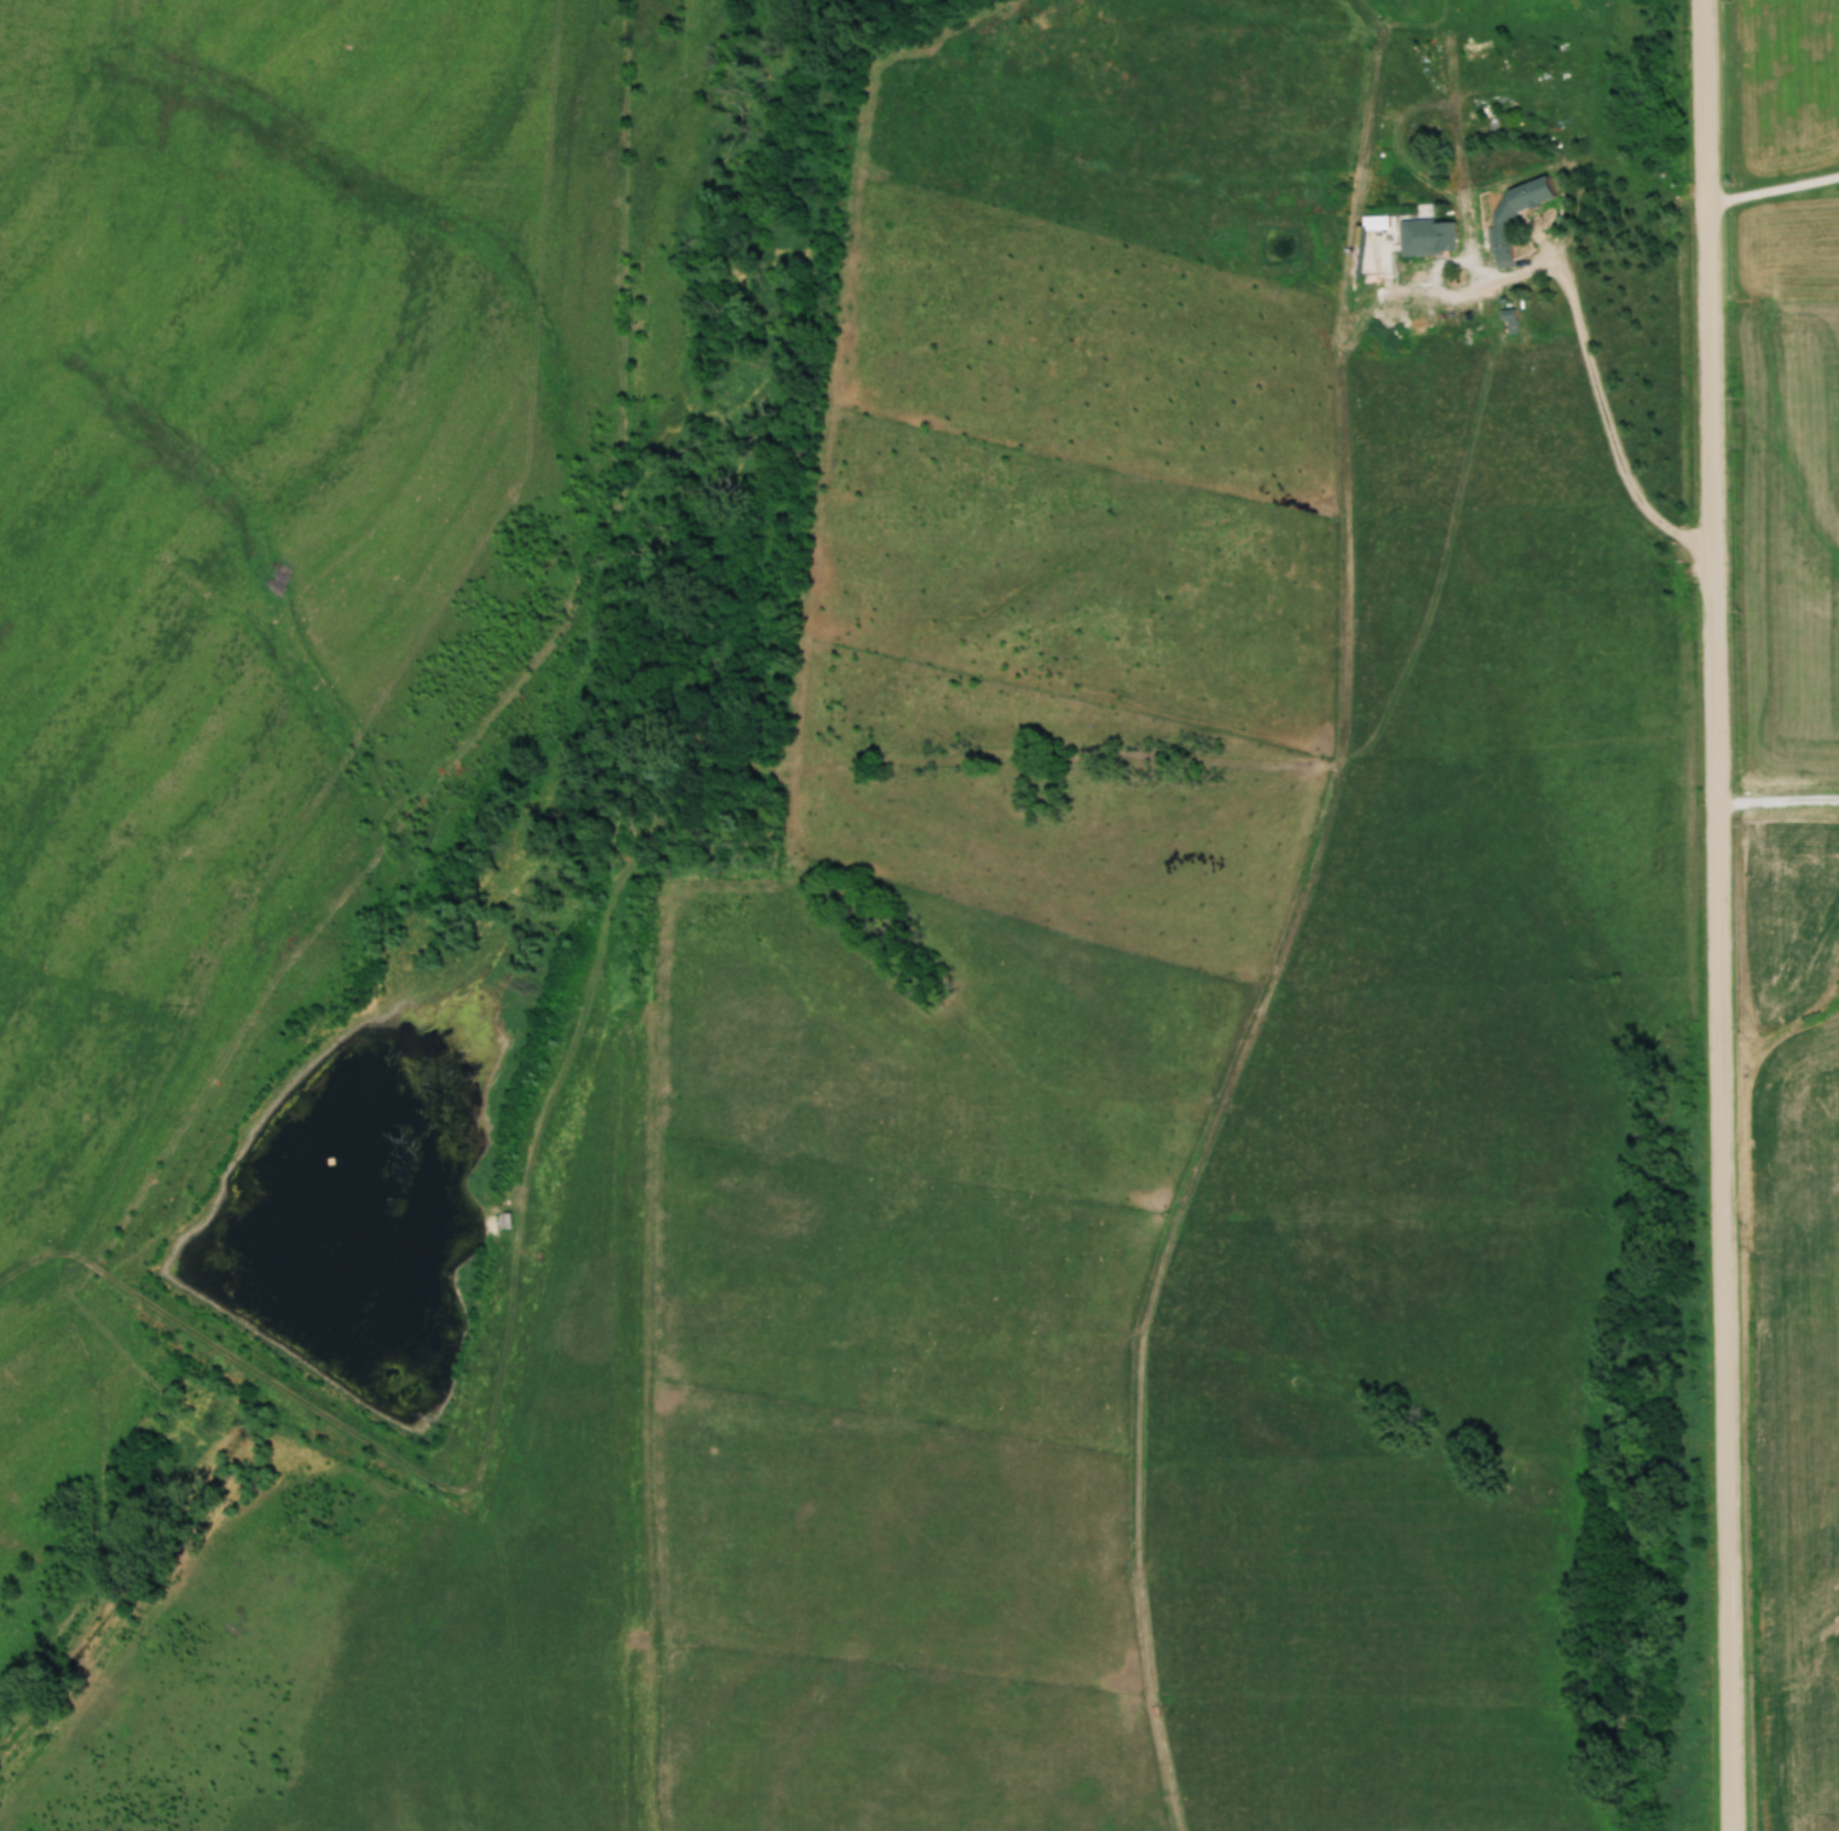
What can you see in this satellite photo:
road: (1773, 192)
building: (1374, 222)
building: (1500, 234)
building: (1425, 238)
road: (1607, 421)
road: (1777, 801)
road: (1718, 915)

